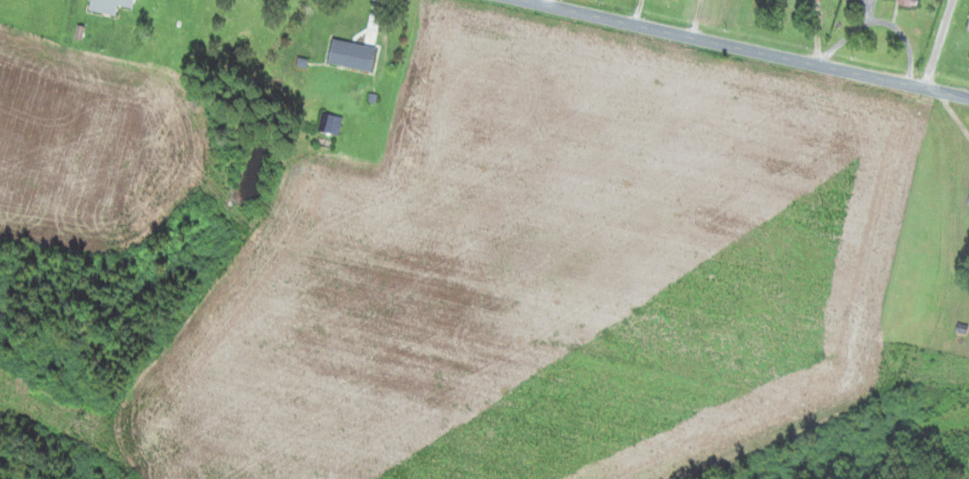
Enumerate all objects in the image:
building: (909, 0)
building: (109, 5)
building: (968, 27)
road: (937, 43)
road: (750, 48)
building: (352, 55)
building: (330, 123)
building: (968, 205)
power tower: (84, 423)

